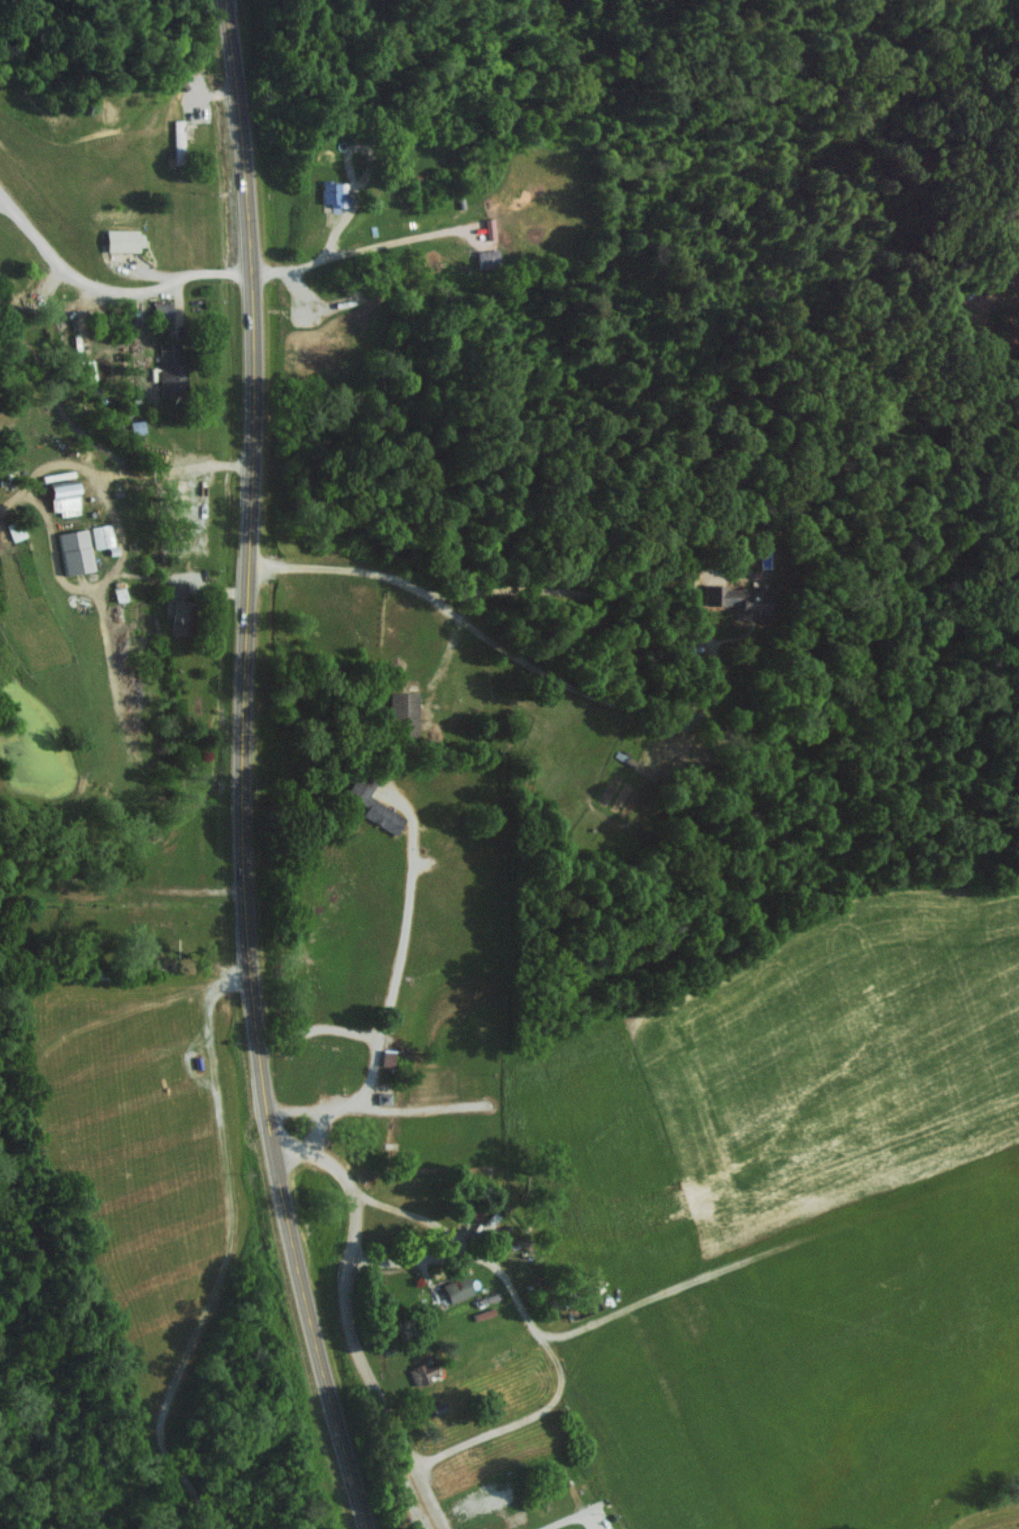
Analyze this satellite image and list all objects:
building: (179, 141)
building: (335, 193)
building: (490, 228)
building: (124, 240)
road: (359, 249)
building: (489, 259)
road: (106, 288)
building: (163, 309)
building: (88, 370)
building: (172, 370)
road: (33, 496)
building: (65, 497)
building: (103, 536)
building: (77, 551)
building: (738, 600)
building: (180, 606)
road: (637, 703)
building: (405, 712)
road: (245, 771)
building: (375, 804)
road: (386, 1018)
road: (318, 1029)
building: (388, 1056)
building: (385, 1097)
road: (414, 1214)
road: (234, 1253)
road: (494, 1265)
building: (458, 1288)
road: (346, 1319)
building: (423, 1371)
road: (564, 1520)

